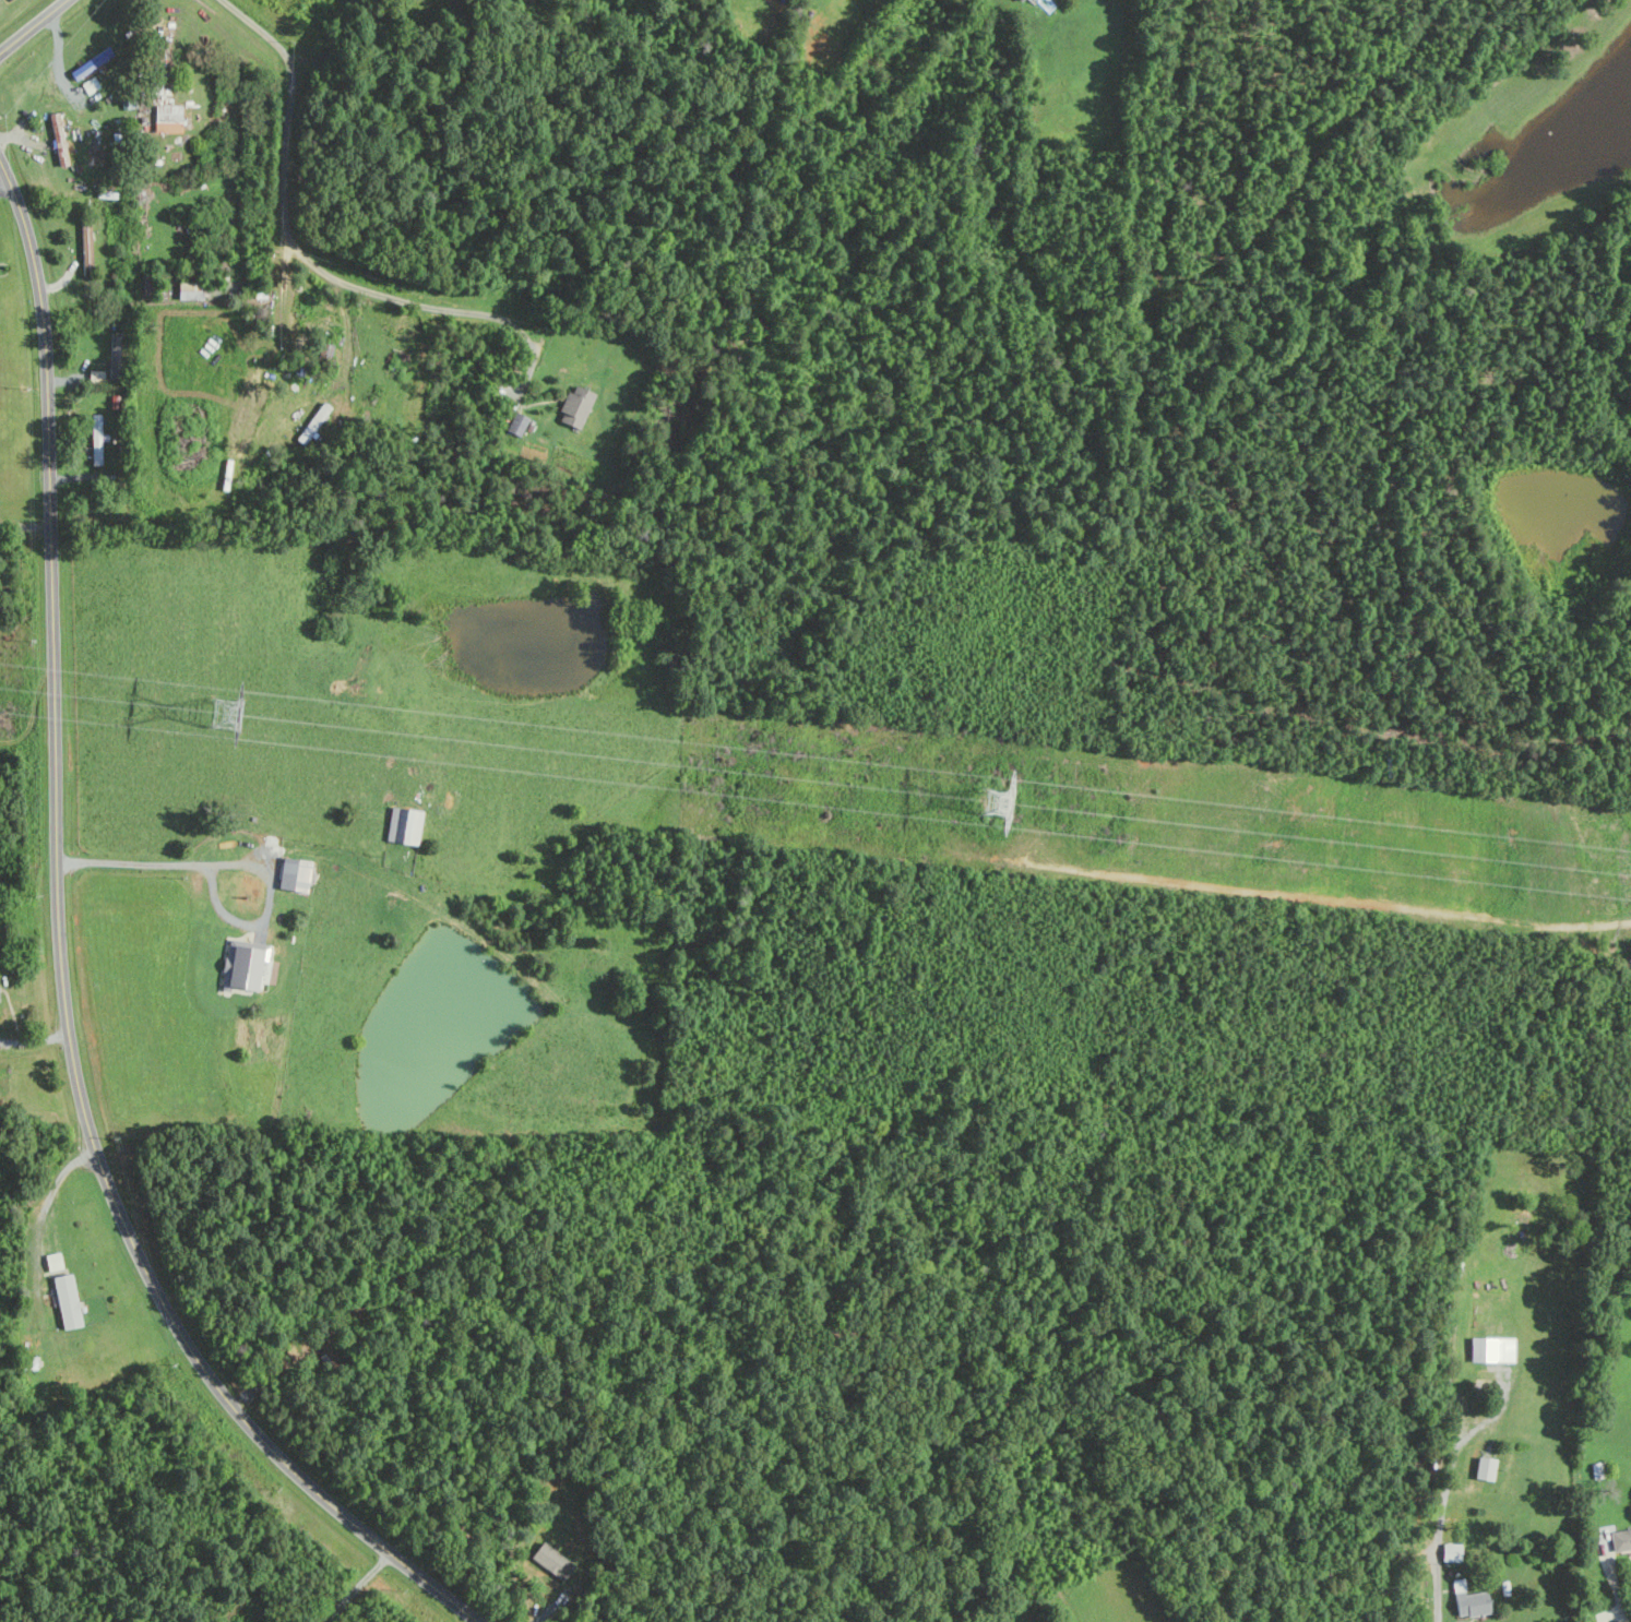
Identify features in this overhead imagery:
road: (33, 25)
road: (58, 58)
road: (305, 60)
building: (167, 119)
building: (57, 130)
road: (1, 172)
building: (85, 246)
road: (334, 278)
building: (190, 291)
building: (115, 348)
building: (575, 407)
building: (515, 425)
building: (96, 439)
road: (24, 524)
power tower: (231, 713)
power tower: (993, 804)
building: (409, 825)
road: (165, 863)
building: (294, 873)
building: (248, 965)
road: (58, 966)
road: (49, 1198)
building: (67, 1301)
building: (1492, 1349)
building: (1486, 1468)
building: (1621, 1540)
building: (1452, 1552)
building: (552, 1561)
road: (1612, 1577)
road: (358, 1587)
road: (1438, 1588)
building: (1469, 1600)

